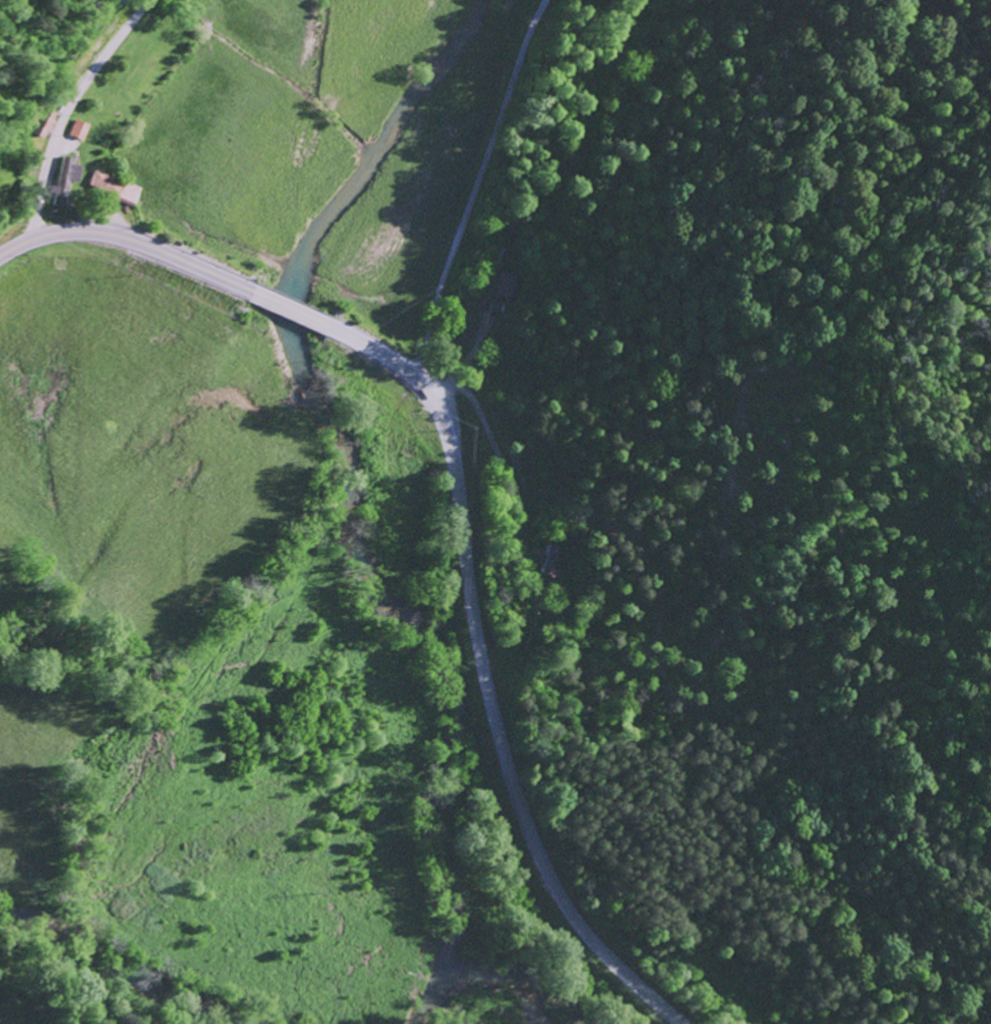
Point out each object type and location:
road: (37, 64)
road: (69, 111)
building: (79, 129)
park: (9, 176)
building: (65, 179)
building: (113, 187)
road: (475, 187)
road: (149, 247)
building: (508, 284)
road: (591, 438)
building: (548, 558)
road: (481, 655)
road: (61, 999)

